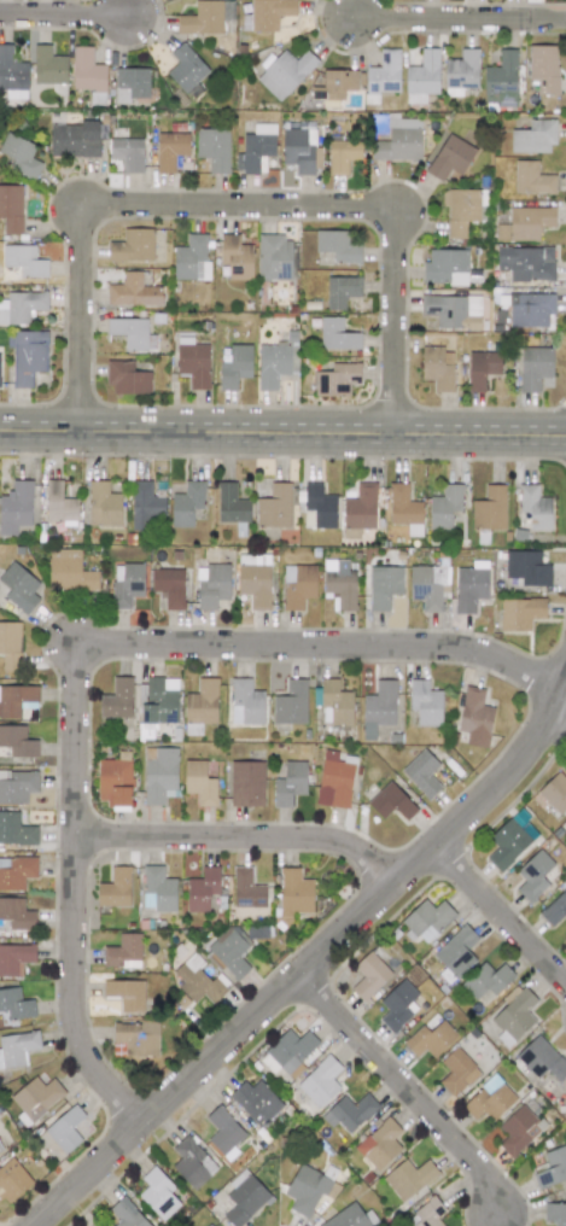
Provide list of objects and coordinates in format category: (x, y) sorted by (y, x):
building: (269, 13)
road: (66, 14)
road: (461, 17)
building: (202, 18)
building: (48, 66)
building: (543, 68)
building: (12, 70)
building: (87, 70)
building: (186, 70)
building: (284, 72)
building: (461, 72)
building: (383, 76)
building: (421, 77)
building: (501, 80)
building: (130, 84)
building: (334, 84)
building: (533, 138)
building: (75, 139)
building: (397, 145)
building: (214, 148)
building: (256, 148)
building: (170, 150)
building: (298, 150)
building: (127, 153)
building: (19, 156)
building: (342, 156)
building: (450, 157)
building: (532, 177)
building: (11, 208)
building: (462, 210)
road: (241, 211)
building: (525, 223)
building: (133, 245)
building: (338, 246)
building: (235, 257)
building: (274, 257)
building: (191, 258)
building: (24, 261)
building: (526, 263)
building: (445, 267)
building: (133, 291)
building: (342, 291)
building: (21, 306)
building: (453, 310)
building: (531, 310)
building: (132, 333)
building: (337, 335)
building: (28, 356)
building: (192, 361)
building: (275, 363)
building: (235, 366)
building: (438, 367)
building: (535, 367)
building: (0, 368)
building: (482, 368)
building: (127, 379)
building: (337, 379)
road: (282, 431)
building: (58, 503)
building: (186, 503)
building: (103, 504)
building: (144, 504)
building: (232, 506)
building: (16, 507)
building: (274, 507)
building: (319, 507)
building: (361, 507)
building: (444, 507)
building: (535, 507)
building: (404, 508)
building: (489, 508)
building: (527, 567)
building: (69, 571)
building: (253, 579)
building: (126, 584)
building: (212, 584)
building: (339, 584)
building: (298, 585)
building: (384, 585)
building: (427, 585)
building: (471, 585)
building: (19, 586)
building: (169, 586)
building: (520, 613)
building: (10, 646)
road: (87, 652)
building: (17, 700)
building: (117, 700)
building: (161, 700)
building: (246, 702)
building: (425, 702)
building: (291, 704)
building: (335, 704)
road: (564, 704)
building: (200, 706)
building: (379, 706)
building: (475, 718)
building: (17, 741)
building: (422, 773)
building: (159, 776)
building: (335, 778)
building: (115, 781)
building: (199, 783)
building: (246, 783)
building: (290, 783)
building: (17, 786)
building: (555, 793)
building: (391, 801)
building: (14, 829)
road: (245, 836)
building: (510, 839)
building: (16, 872)
building: (533, 875)
building: (115, 888)
building: (202, 888)
building: (158, 889)
building: (247, 889)
building: (294, 893)
building: (555, 910)
building: (16, 913)
road: (502, 913)
building: (426, 920)
building: (123, 952)
building: (229, 952)
building: (456, 953)
building: (14, 958)
road: (309, 963)
building: (369, 975)
building: (197, 981)
building: (486, 981)
building: (126, 993)
building: (16, 1004)
building: (398, 1005)
building: (514, 1017)
building: (138, 1038)
building: (430, 1039)
building: (17, 1049)
building: (287, 1051)
building: (542, 1059)
building: (457, 1072)
building: (320, 1081)
road: (405, 1090)
building: (36, 1097)
building: (489, 1099)
building: (255, 1101)
building: (350, 1111)
building: (65, 1128)
building: (519, 1129)
building: (223, 1131)
building: (379, 1143)
building: (0, 1151)
building: (192, 1162)
building: (552, 1168)
building: (408, 1178)
building: (12, 1179)
building: (307, 1190)
building: (157, 1193)
building: (245, 1199)
building: (555, 1213)
building: (124, 1214)
building: (425, 1215)
building: (351, 1218)
building: (209, 1225)

